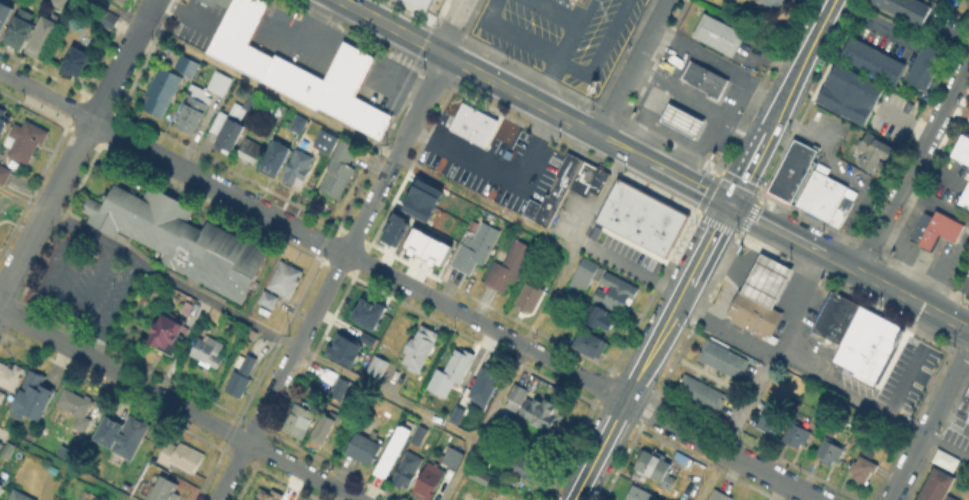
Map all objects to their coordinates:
building: (57, 2)
building: (216, 2)
building: (420, 3)
building: (777, 3)
building: (910, 8)
building: (3, 11)
road: (185, 13)
road: (554, 13)
building: (110, 19)
road: (315, 20)
road: (874, 23)
building: (20, 30)
road: (515, 33)
building: (719, 33)
building: (41, 35)
road: (302, 39)
road: (600, 47)
road: (564, 51)
building: (873, 57)
road: (806, 58)
building: (78, 61)
road: (664, 62)
road: (351, 64)
building: (188, 65)
road: (719, 65)
building: (922, 65)
road: (634, 67)
building: (303, 70)
building: (703, 78)
building: (220, 82)
road: (395, 86)
building: (163, 92)
building: (846, 96)
road: (740, 100)
road: (535, 101)
road: (699, 104)
building: (193, 109)
road: (682, 117)
building: (968, 117)
road: (644, 118)
building: (680, 119)
gas station: (680, 119)
building: (300, 122)
building: (4, 123)
building: (472, 123)
building: (233, 124)
road: (334, 124)
road: (671, 132)
building: (27, 140)
building: (323, 140)
road: (698, 145)
building: (961, 147)
road: (77, 148)
building: (251, 149)
building: (875, 151)
building: (278, 154)
road: (753, 160)
road: (833, 161)
road: (498, 164)
road: (913, 165)
building: (299, 168)
building: (340, 169)
building: (790, 169)
road: (937, 170)
building: (4, 174)
building: (587, 177)
building: (425, 190)
building: (820, 192)
building: (964, 193)
road: (601, 201)
road: (935, 203)
traffic signals: (731, 204)
building: (841, 206)
building: (416, 207)
building: (622, 207)
building: (541, 208)
building: (644, 218)
road: (849, 223)
building: (656, 224)
building: (394, 228)
building: (934, 228)
building: (604, 231)
building: (668, 231)
building: (182, 238)
building: (417, 240)
building: (477, 248)
building: (435, 250)
road: (346, 252)
road: (704, 254)
road: (897, 254)
road: (724, 257)
road: (917, 263)
building: (510, 266)
road: (939, 266)
road: (778, 267)
road: (849, 267)
road: (632, 268)
road: (738, 272)
building: (587, 275)
road: (54, 278)
building: (286, 278)
building: (765, 279)
gas station: (765, 279)
road: (770, 281)
road: (409, 283)
road: (957, 293)
road: (84, 294)
building: (617, 295)
building: (530, 296)
road: (764, 297)
building: (269, 299)
building: (188, 305)
building: (358, 310)
road: (114, 311)
building: (827, 312)
building: (753, 313)
road: (237, 316)
building: (600, 318)
building: (842, 320)
road: (727, 330)
building: (168, 334)
building: (364, 342)
building: (866, 343)
building: (592, 345)
building: (334, 347)
building: (421, 348)
building: (208, 351)
road: (777, 353)
building: (720, 358)
building: (359, 359)
road: (911, 363)
building: (379, 366)
building: (459, 367)
building: (12, 373)
building: (242, 374)
road: (510, 375)
building: (482, 386)
building: (697, 392)
building: (2, 395)
building: (31, 395)
building: (516, 396)
building: (965, 400)
road: (625, 401)
road: (178, 405)
road: (872, 406)
building: (77, 408)
building: (455, 412)
building: (543, 412)
building: (301, 419)
road: (929, 423)
building: (769, 425)
building: (325, 427)
building: (798, 430)
building: (420, 434)
building: (131, 437)
building: (8, 448)
building: (365, 448)
building: (397, 450)
building: (830, 450)
building: (182, 456)
building: (453, 458)
building: (943, 459)
road: (65, 465)
building: (863, 467)
building: (656, 468)
building: (408, 469)
building: (532, 469)
road: (711, 475)
building: (481, 476)
building: (1, 481)
building: (430, 481)
building: (935, 486)
building: (1, 487)
building: (164, 489)
building: (268, 494)
building: (640, 495)
building: (20, 496)
building: (90, 496)
building: (720, 496)
building: (498, 497)
building: (55, 499)

